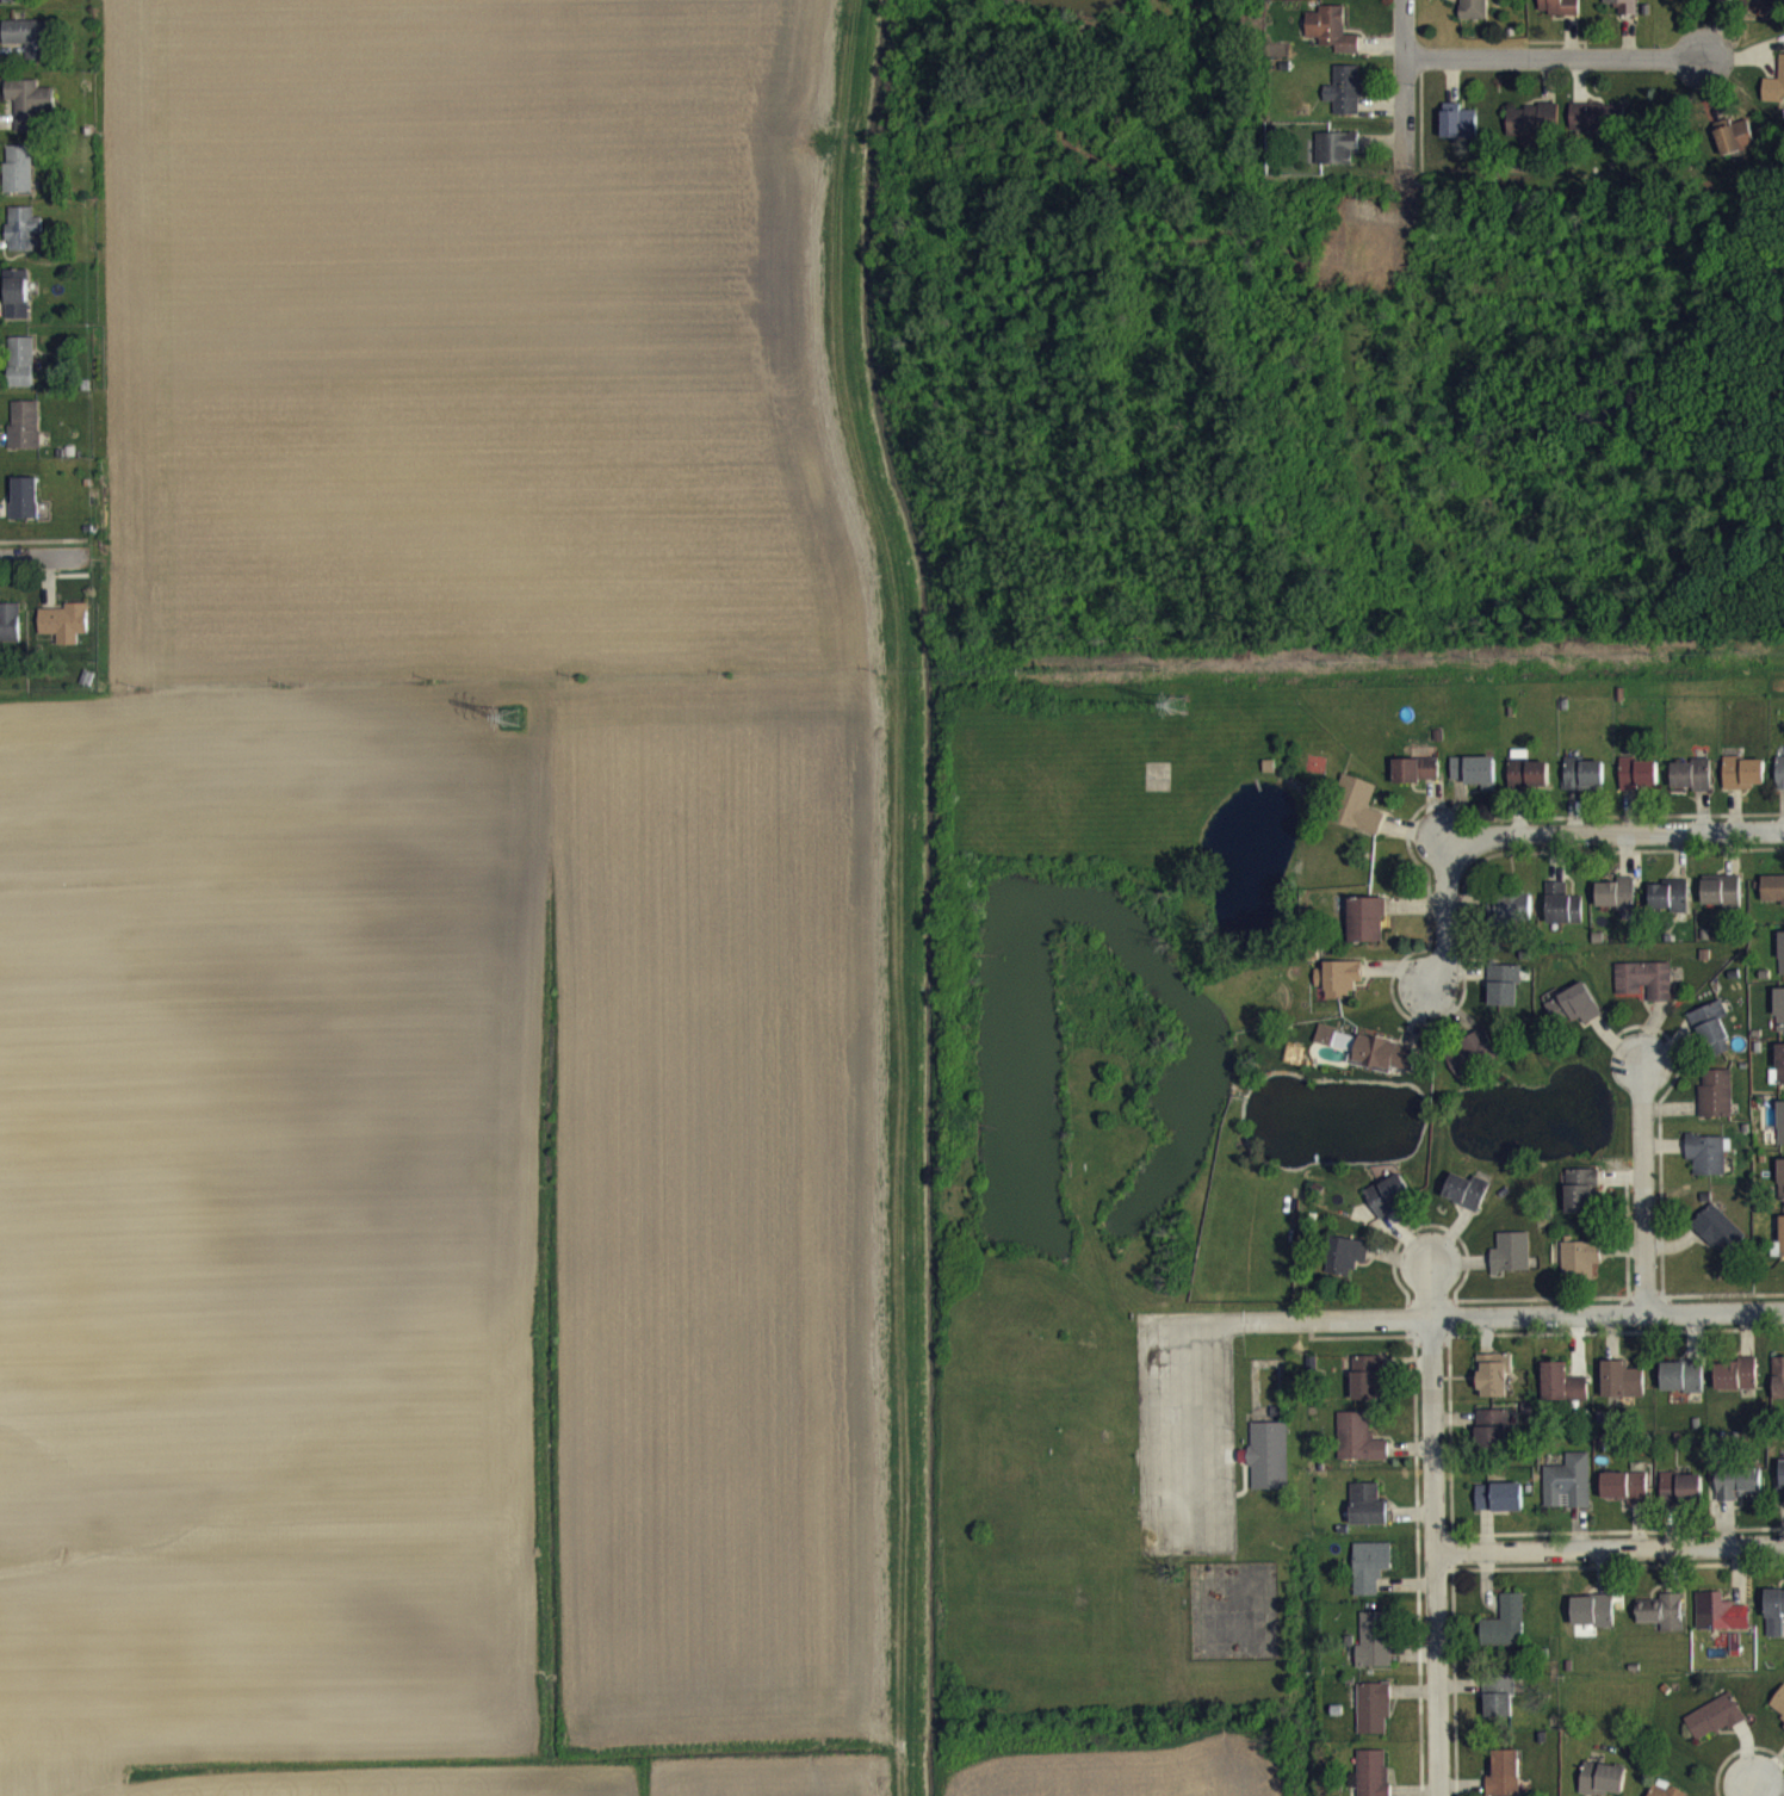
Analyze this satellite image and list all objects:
building: (1343, 0)
building: (18, 7)
building: (1619, 11)
building: (1472, 14)
building: (1559, 14)
building: (1332, 41)
building: (32, 49)
road: (1561, 56)
road: (1406, 73)
building: (1774, 97)
building: (1346, 101)
building: (31, 114)
building: (1532, 132)
building: (1600, 132)
building: (1460, 134)
building: (1734, 148)
building: (1337, 160)
building: (19, 181)
building: (24, 241)
building: (18, 305)
building: (21, 373)
building: (25, 438)
building: (25, 510)
road: (36, 570)
building: (10, 634)
building: (66, 634)
power tower: (1170, 702)
power tower: (513, 717)
building: (1417, 782)
building: (1476, 784)
building: (1743, 785)
building: (1780, 785)
building: (1529, 786)
building: (1639, 786)
building: (1585, 787)
building: (1692, 787)
building: (1358, 818)
road: (1615, 832)
building: (1773, 900)
building: (1722, 903)
building: (1617, 906)
building: (1671, 909)
road: (1445, 912)
building: (1563, 916)
building: (1516, 919)
building: (1368, 931)
building: (1782, 965)
building: (1340, 990)
building: (1646, 992)
building: (1505, 997)
building: (1575, 1017)
building: (1780, 1022)
building: (1712, 1040)
building: (1337, 1051)
building: (1387, 1065)
building: (1472, 1065)
building: (1780, 1078)
building: (1717, 1106)
building: (1782, 1134)
building: (1708, 1166)
road: (1643, 1187)
building: (1782, 1191)
building: (1467, 1203)
building: (1581, 1203)
building: (1390, 1207)
building: (1720, 1241)
building: (1779, 1256)
building: (1512, 1265)
building: (1346, 1268)
building: (1580, 1271)
road: (1481, 1314)
building: (1736, 1386)
building: (1494, 1387)
building: (1368, 1388)
building: (1684, 1388)
building: (1778, 1389)
building: (1623, 1392)
building: (1563, 1395)
building: (1493, 1441)
building: (1359, 1450)
building: (1269, 1468)
building: (1782, 1486)
building: (1569, 1494)
building: (1740, 1495)
building: (1627, 1499)
building: (1683, 1500)
building: (1500, 1510)
building: (1369, 1517)
road: (1433, 1529)
road: (1609, 1548)
building: (1371, 1579)
building: (1593, 1623)
building: (1664, 1624)
building: (1721, 1624)
building: (1776, 1625)
building: (1506, 1635)
building: (1375, 1653)
building: (1500, 1708)
building: (1778, 1715)
building: (1374, 1718)
building: (1715, 1729)
building: (1373, 1779)
building: (1506, 1779)
building: (1604, 1785)
road: (1752, 1788)

